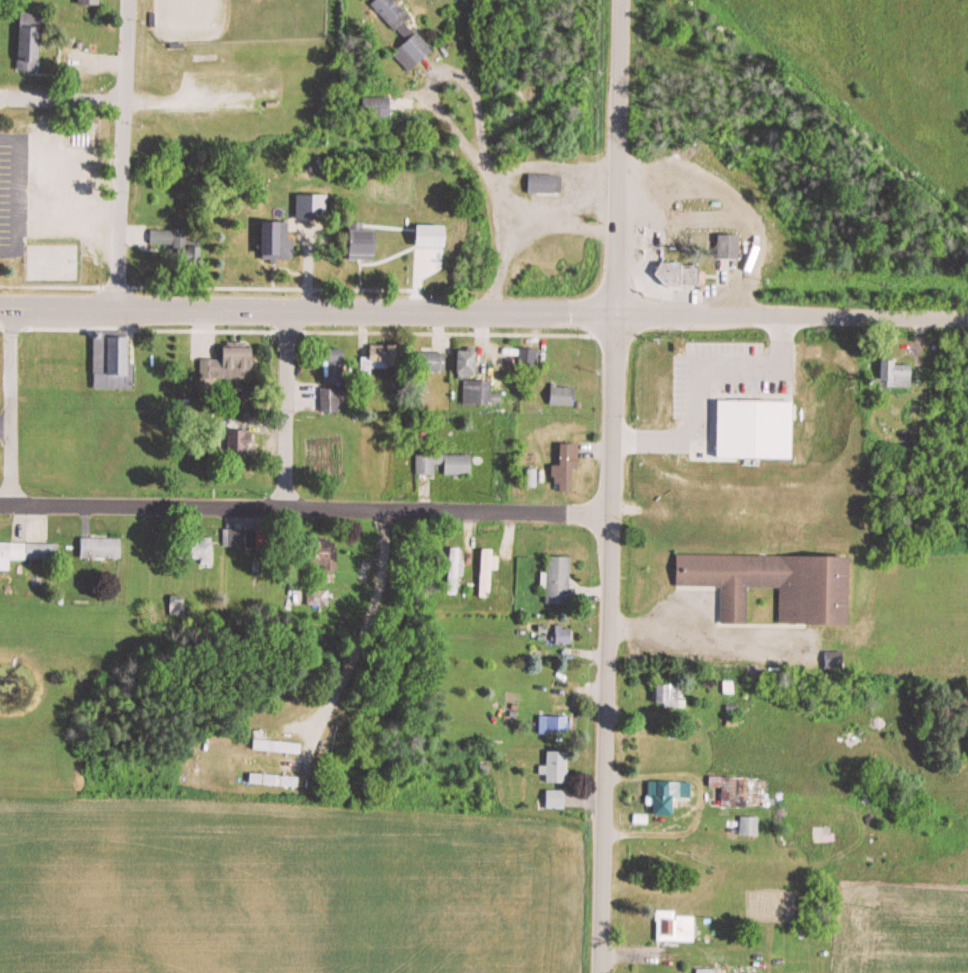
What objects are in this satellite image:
building: (92, 3)
park: (238, 21)
building: (406, 34)
building: (31, 44)
road: (63, 98)
building: (379, 107)
road: (124, 155)
road: (622, 157)
building: (546, 183)
building: (312, 207)
building: (434, 237)
building: (280, 242)
building: (367, 244)
building: (53, 262)
building: (681, 274)
road: (483, 313)
building: (384, 358)
building: (529, 359)
building: (432, 363)
building: (112, 364)
building: (232, 366)
building: (470, 366)
building: (336, 369)
building: (888, 370)
building: (481, 395)
building: (564, 397)
building: (332, 401)
road: (8, 403)
road: (284, 406)
building: (427, 466)
building: (459, 466)
building: (568, 469)
road: (307, 502)
building: (235, 538)
building: (102, 548)
building: (203, 550)
building: (27, 553)
building: (324, 553)
building: (488, 572)
building: (560, 580)
building: (778, 584)
building: (317, 596)
building: (565, 636)
road: (610, 643)
road: (348, 674)
building: (670, 696)
building: (554, 724)
building: (332, 744)
building: (279, 746)
building: (559, 767)
building: (276, 780)
building: (732, 790)
building: (668, 796)
building: (559, 800)
building: (750, 826)
crop: (896, 924)
building: (676, 928)

